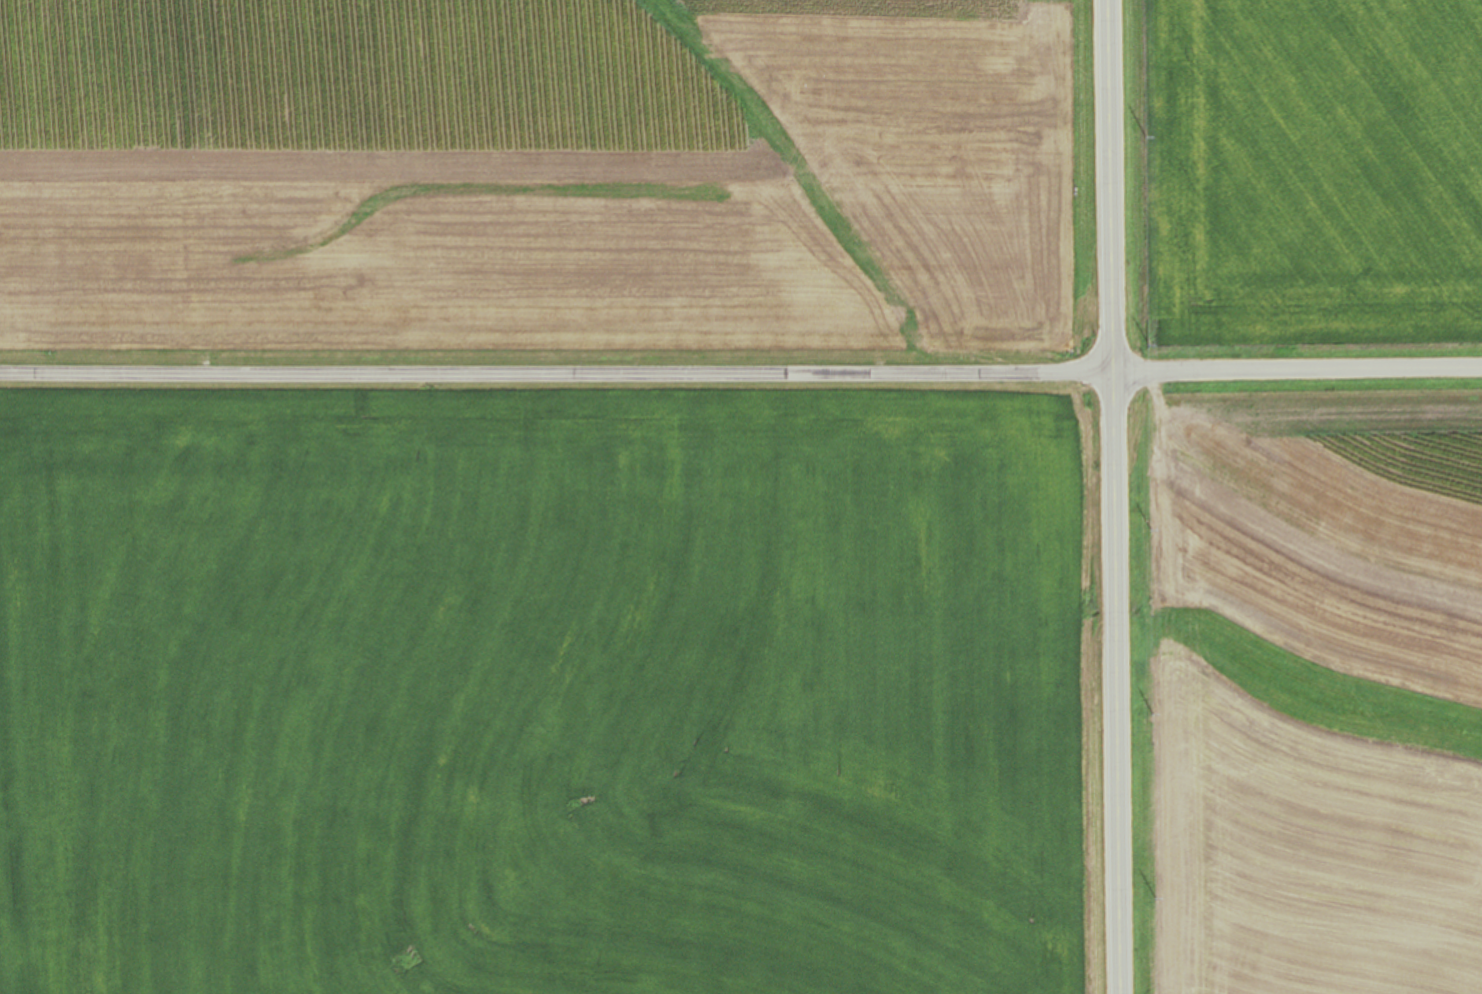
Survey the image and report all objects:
road: (557, 372)
road: (1298, 374)
road: (1116, 496)

